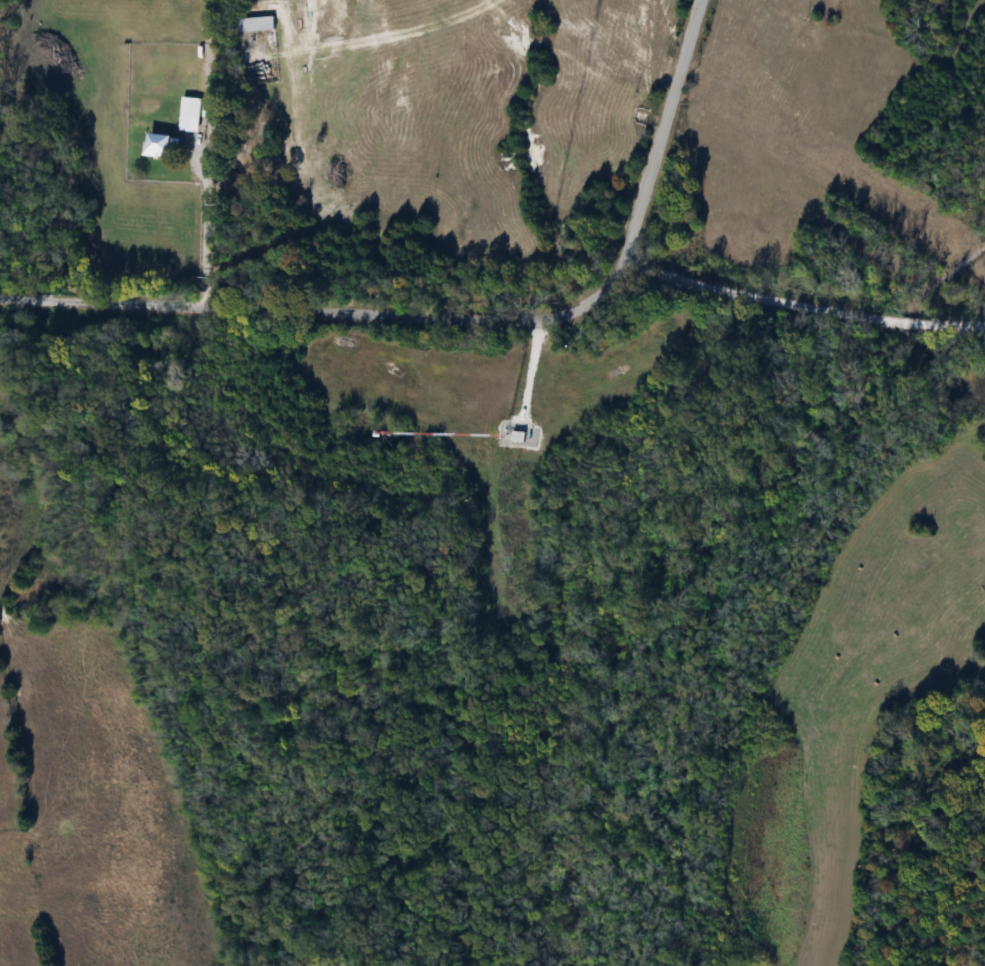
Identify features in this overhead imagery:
building: (252, 24)
building: (188, 107)
building: (153, 144)
road: (206, 224)
road: (802, 307)
road: (460, 318)

